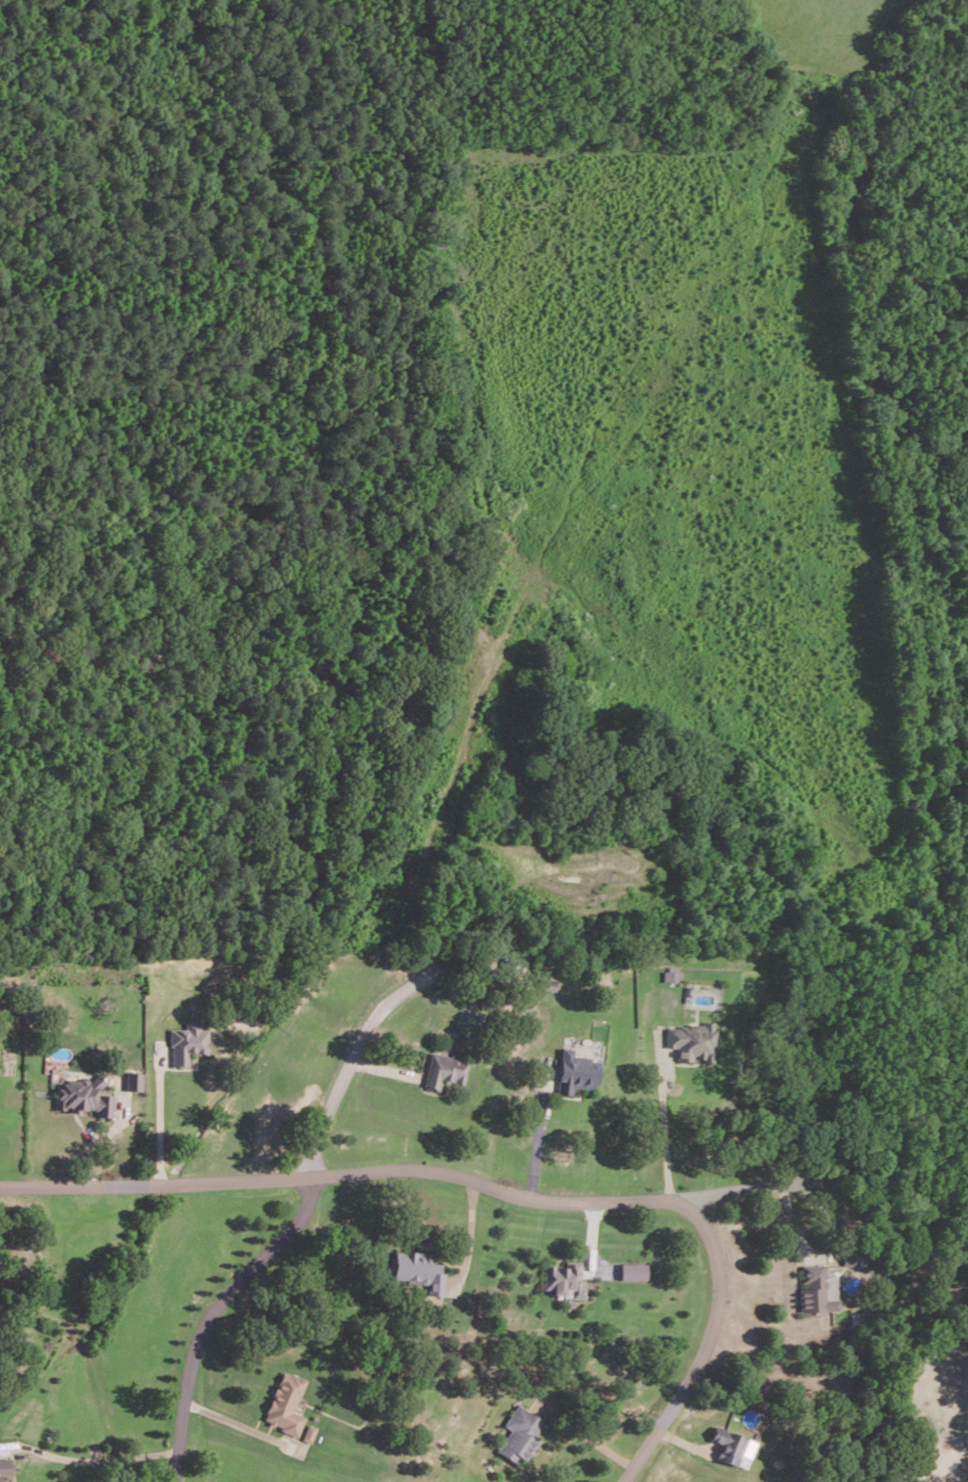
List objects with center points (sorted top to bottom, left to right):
building: (671, 975)
building: (692, 1041)
building: (187, 1042)
road: (347, 1066)
building: (445, 1069)
building: (576, 1072)
building: (133, 1080)
building: (83, 1096)
road: (161, 1123)
road: (665, 1135)
road: (540, 1143)
road: (446, 1179)
building: (849, 1259)
building: (420, 1270)
building: (633, 1271)
building: (565, 1278)
building: (819, 1289)
road: (206, 1316)
road: (700, 1350)
building: (286, 1403)
road: (229, 1420)
building: (310, 1432)
building: (520, 1434)
building: (733, 1446)
road: (89, 1459)
building: (5, 1467)

